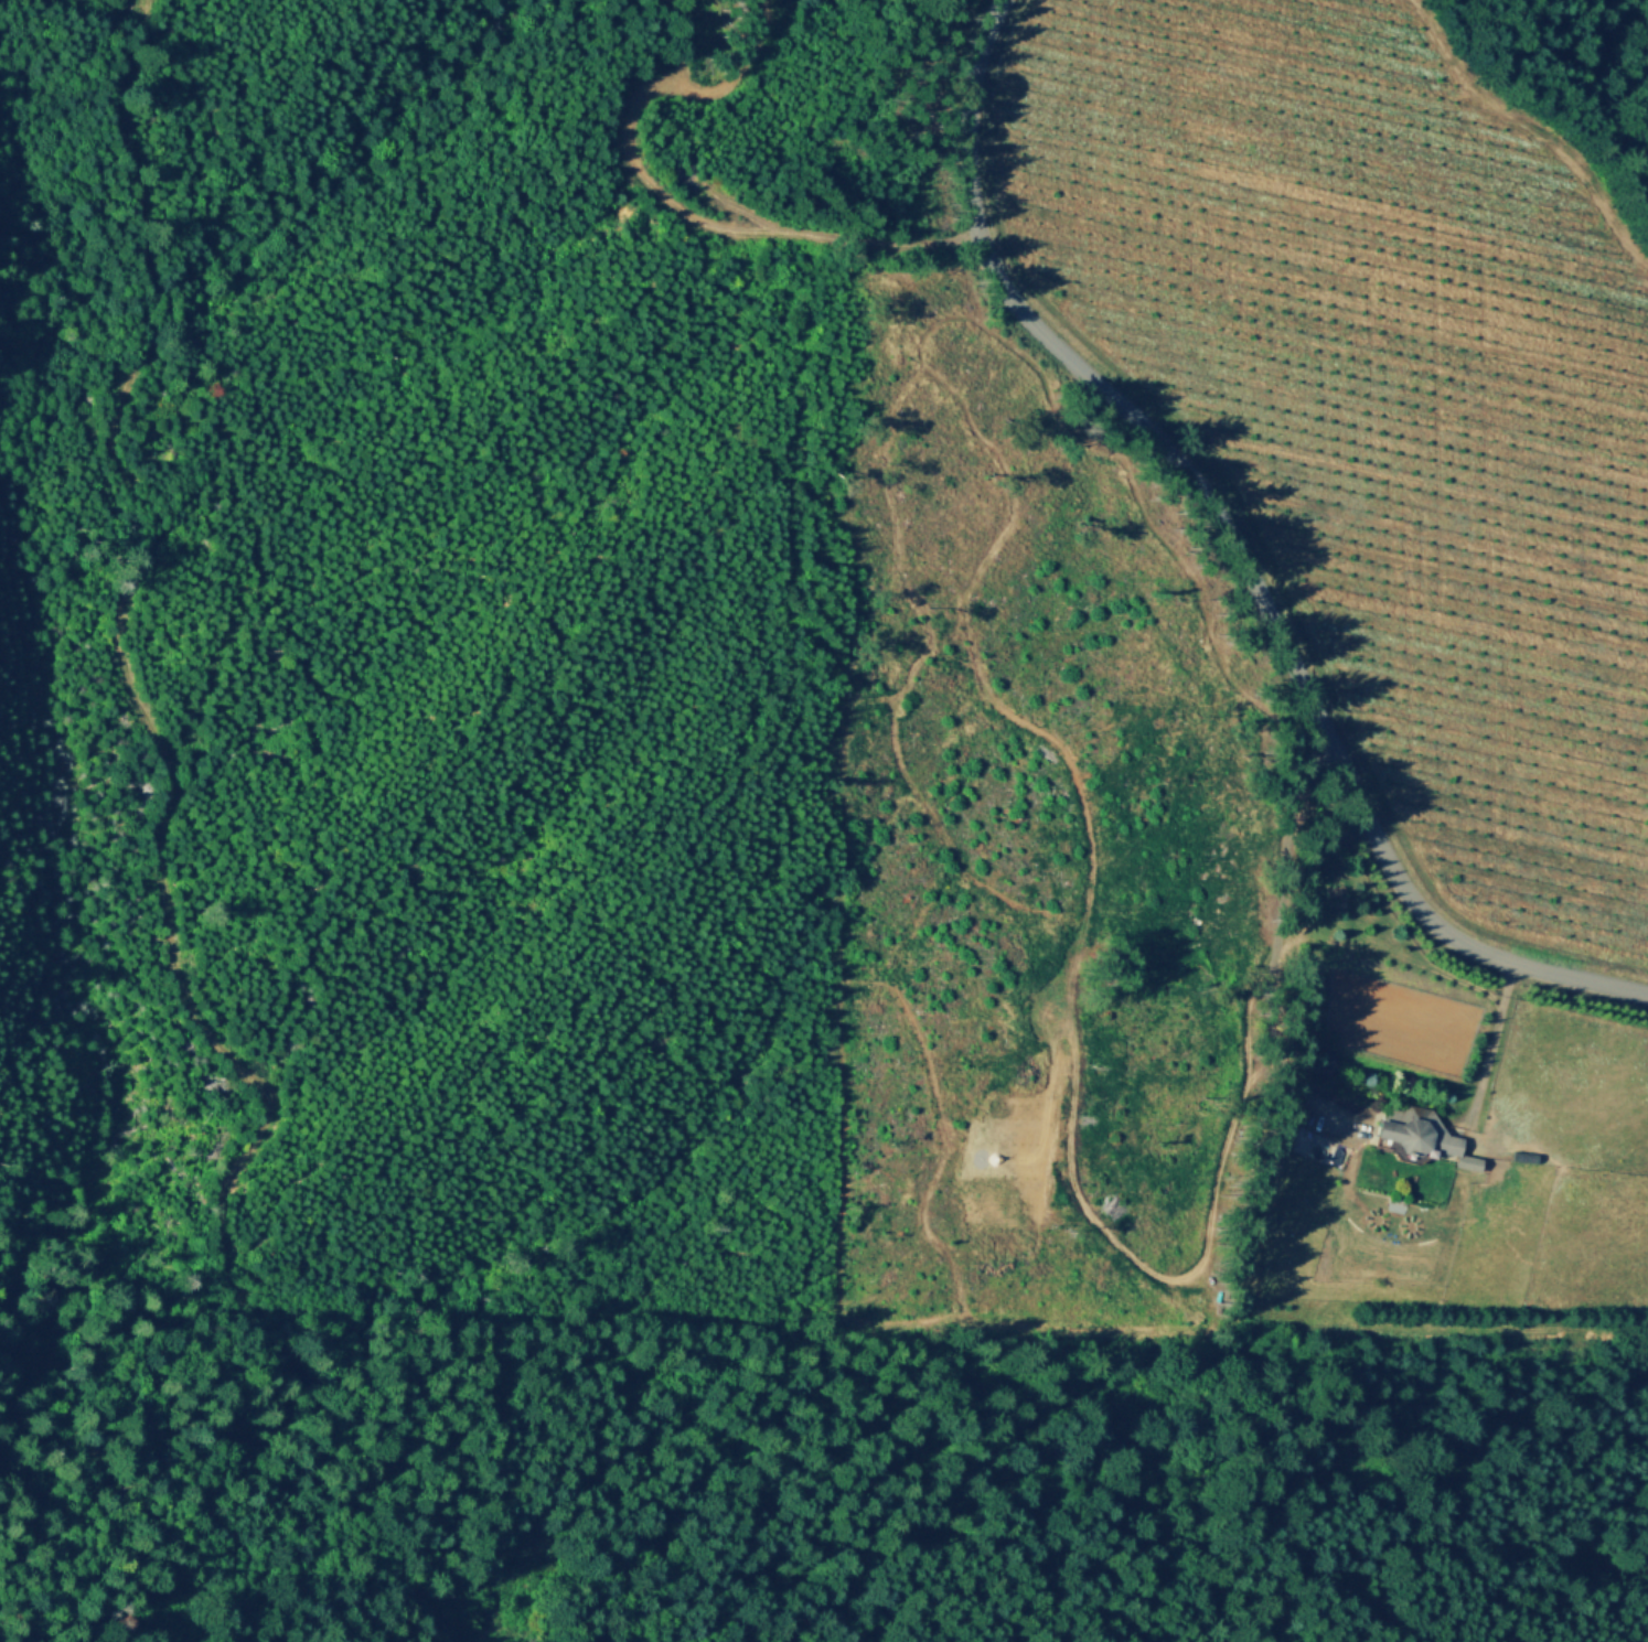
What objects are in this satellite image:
road: (697, 221)
crop: (1374, 407)
road: (1239, 548)
road: (126, 663)
road: (1270, 940)
road: (1492, 1040)
building: (1412, 1129)
building: (1321, 1145)

